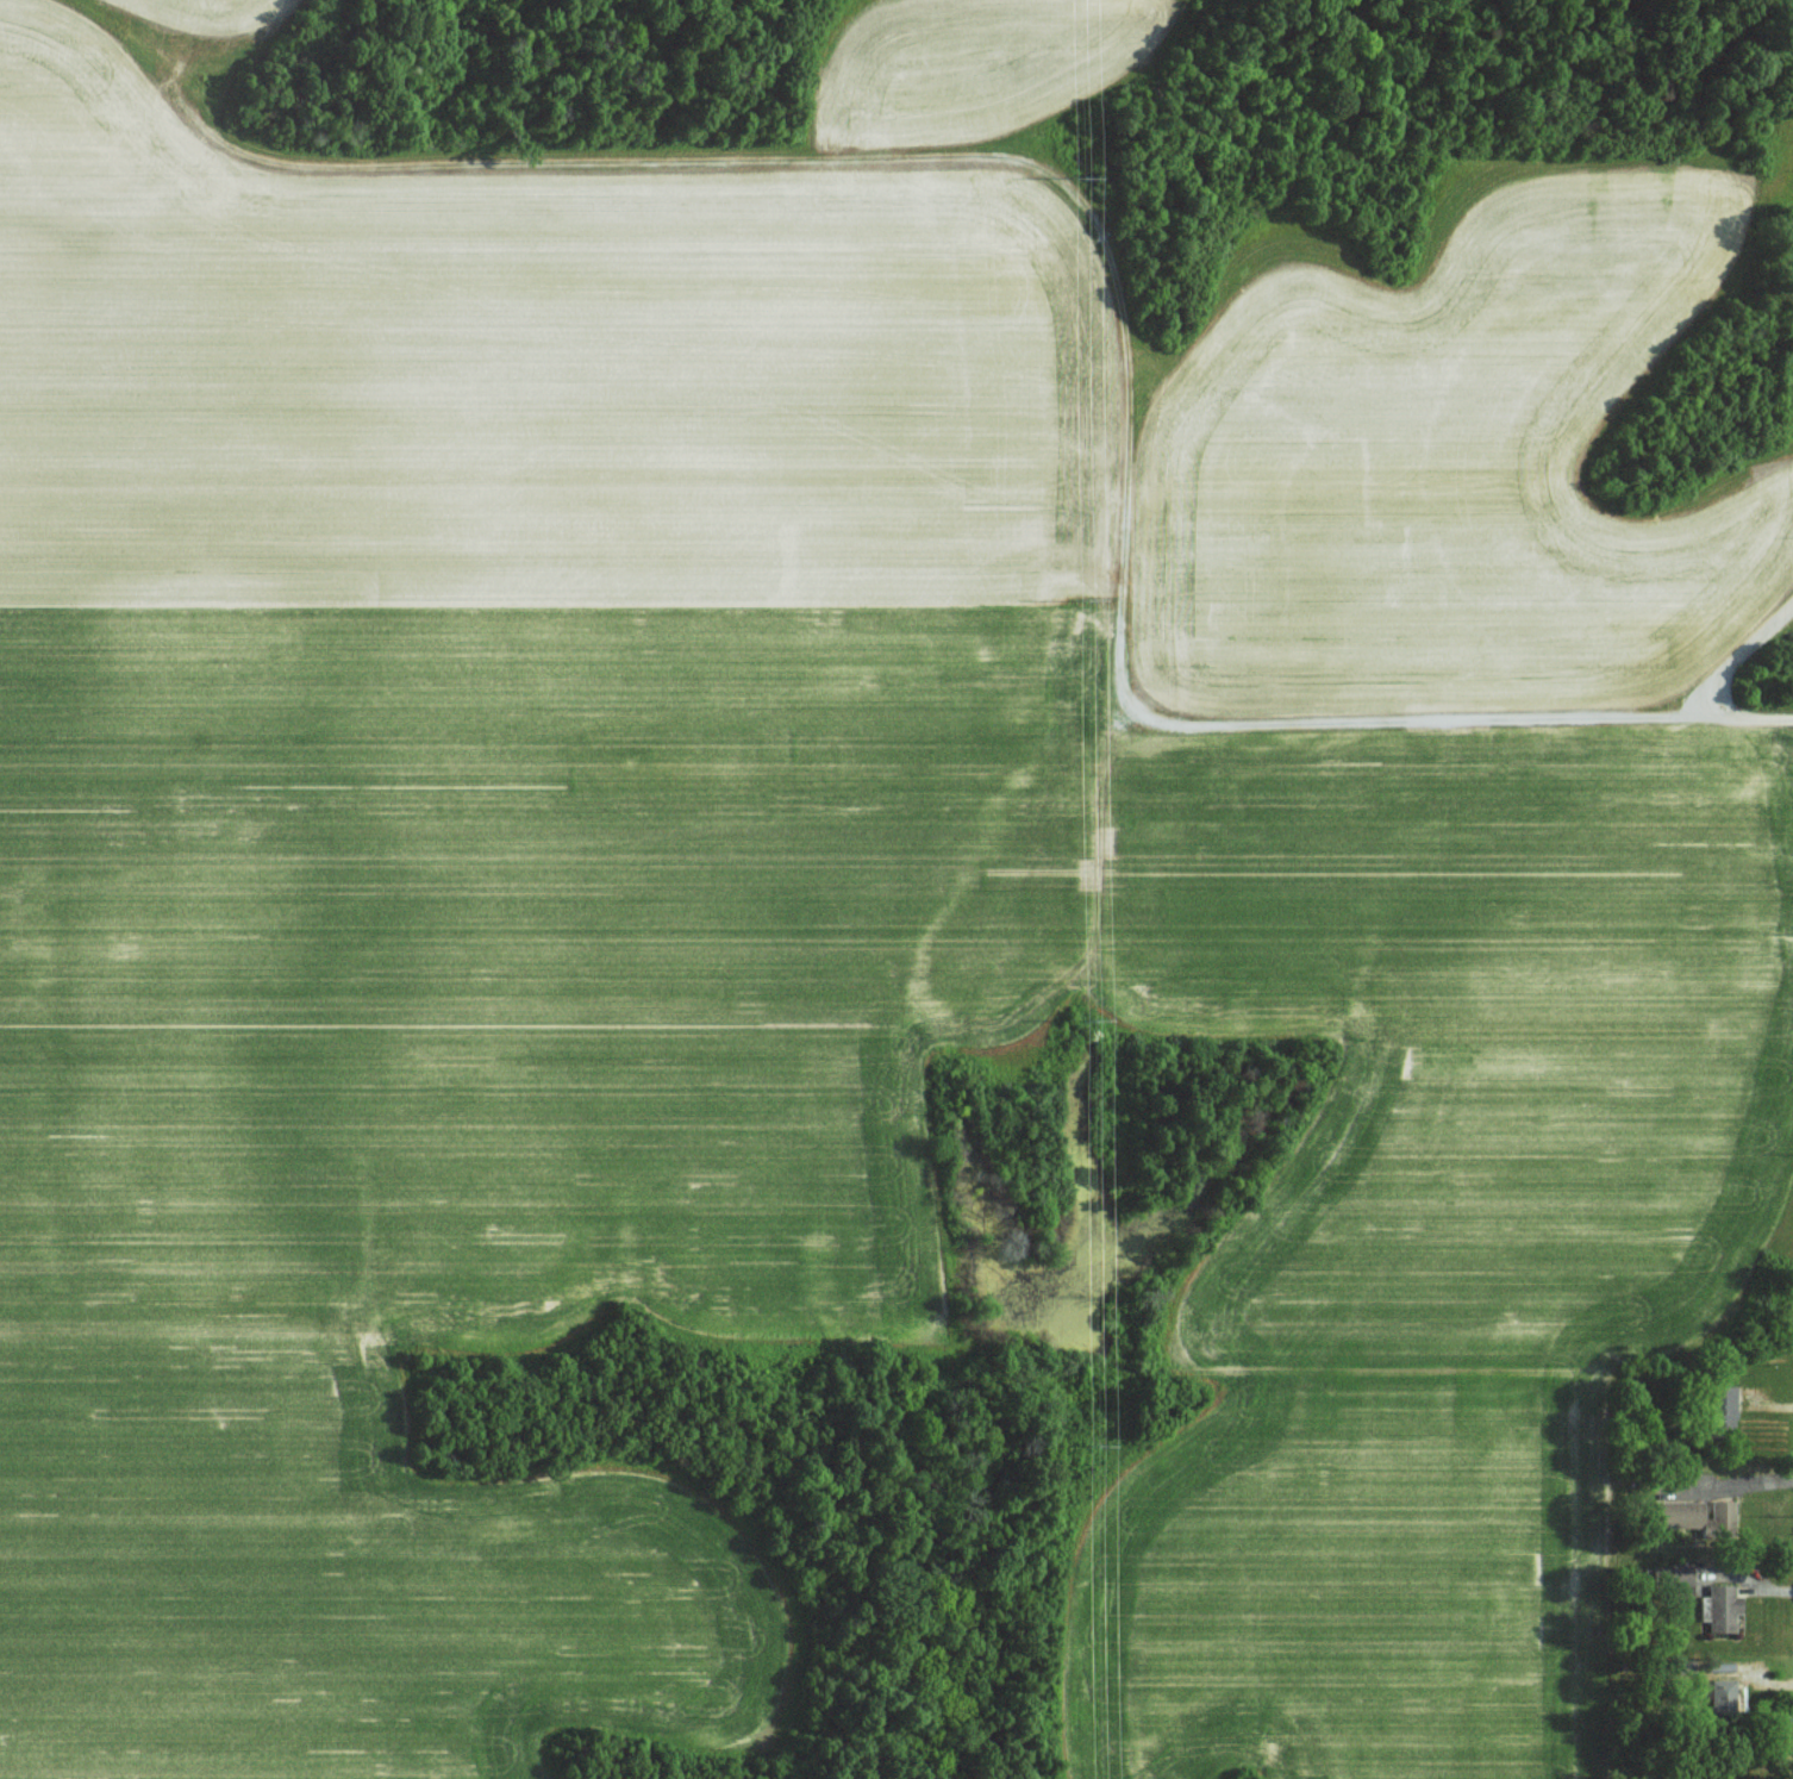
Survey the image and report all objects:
building: (1724, 1409)
building: (1694, 1515)
building: (1673, 1574)
building: (1722, 1606)
building: (1720, 1693)

